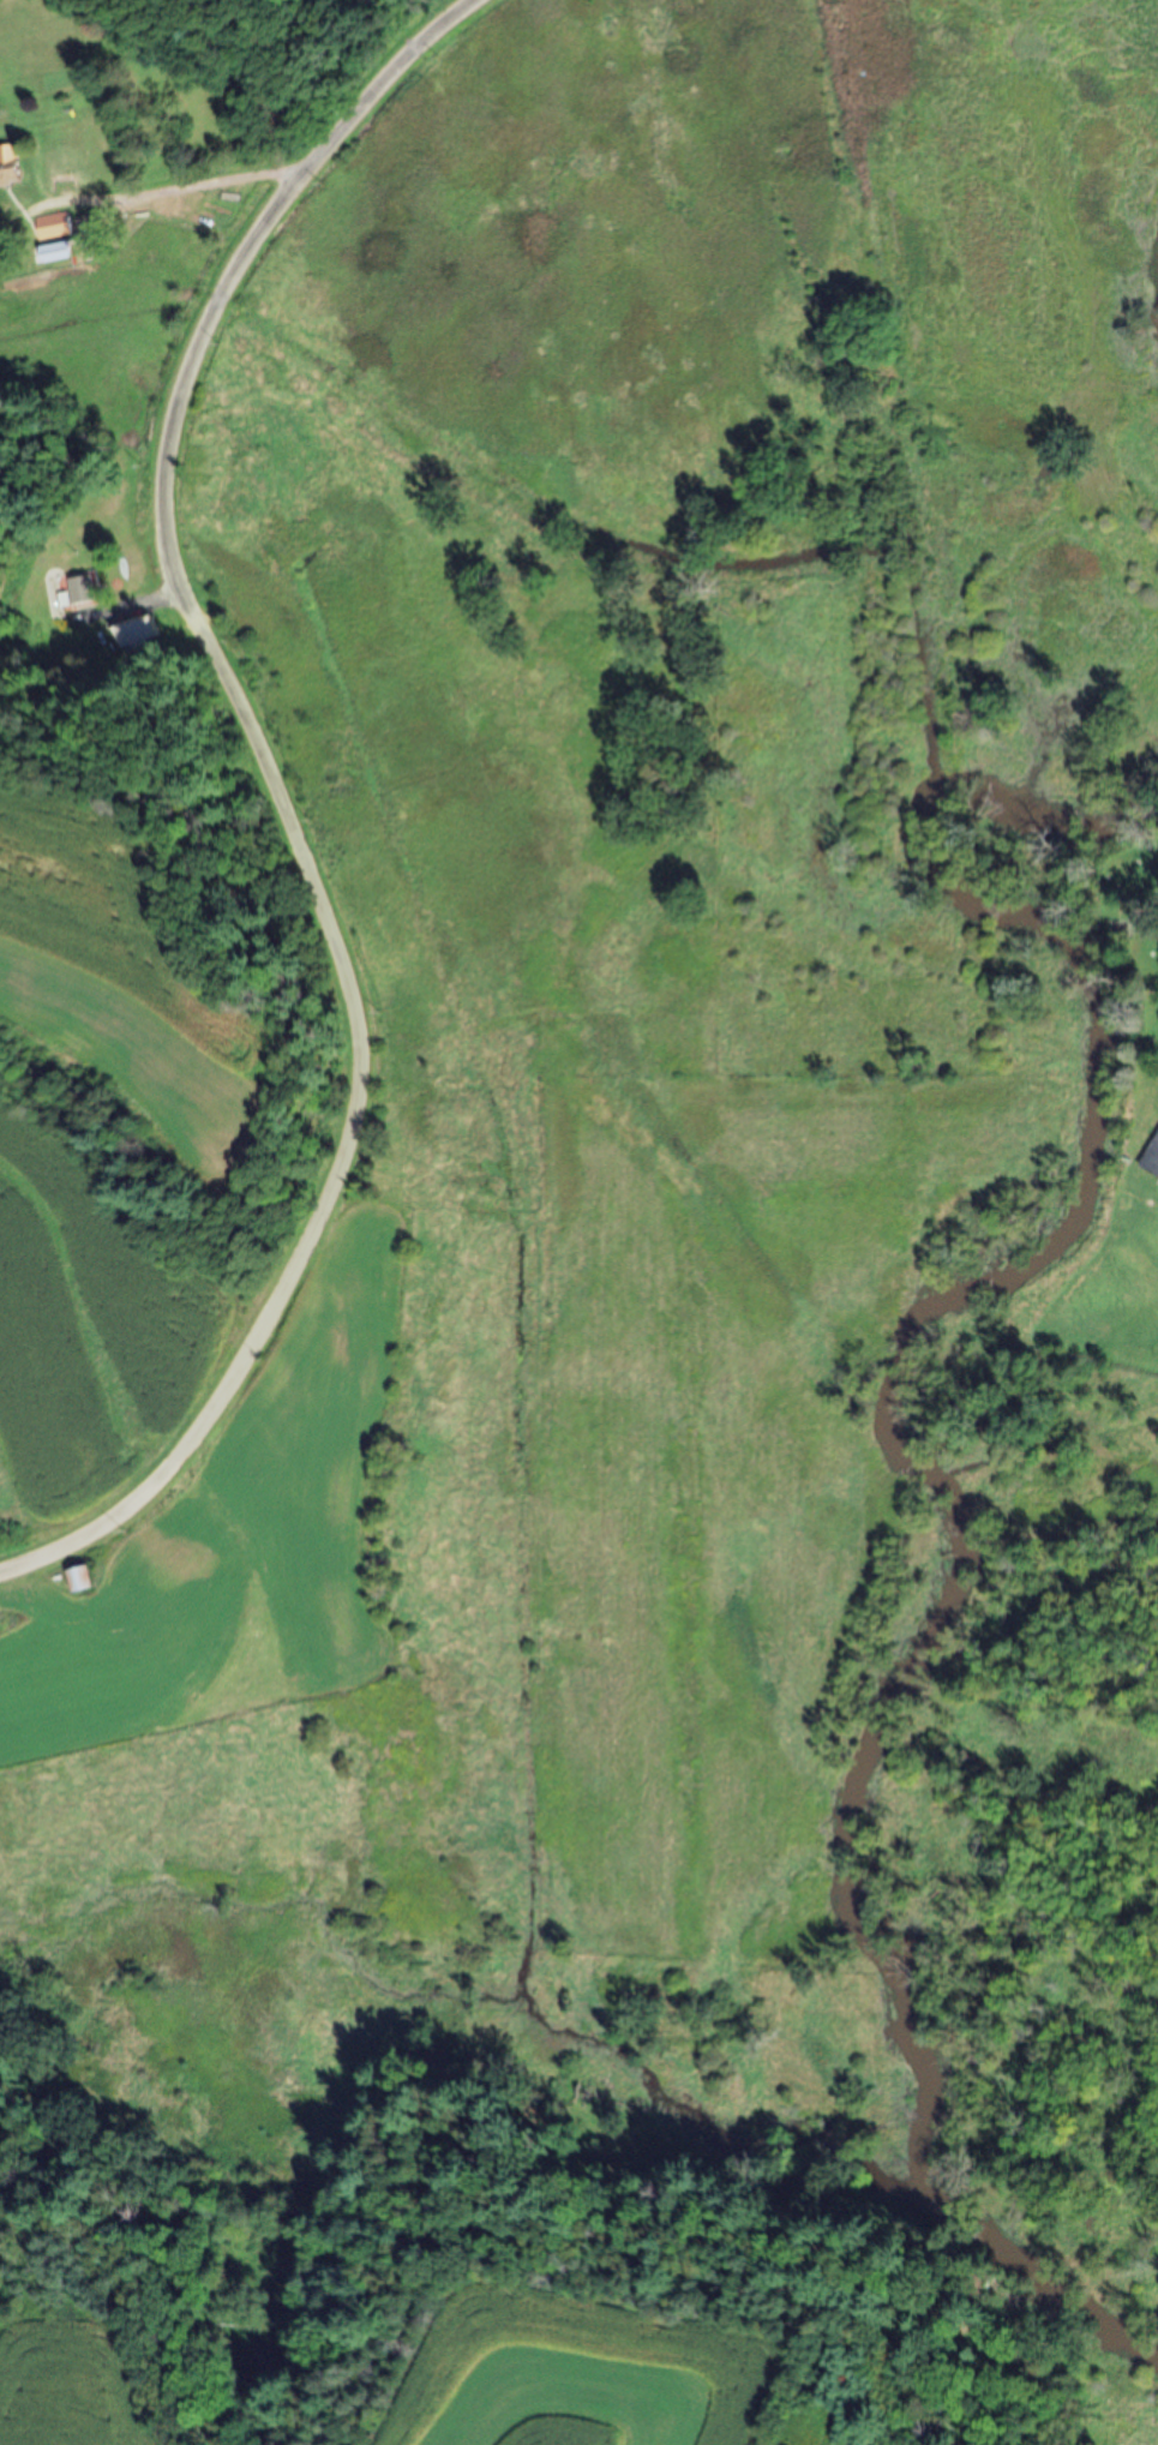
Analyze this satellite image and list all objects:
building: (10, 167)
building: (54, 227)
building: (56, 253)
building: (82, 589)
building: (140, 635)
road: (278, 799)
building: (1152, 1157)
river: (902, 1443)
building: (83, 1578)

